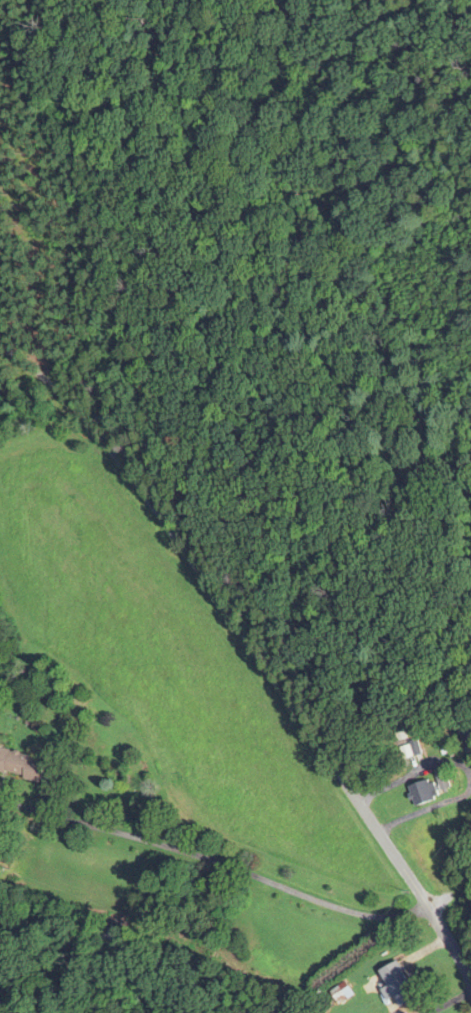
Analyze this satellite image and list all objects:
road: (158, 517)
building: (22, 763)
building: (430, 788)
road: (385, 840)
road: (234, 872)
building: (111, 938)
building: (396, 984)
building: (340, 992)

